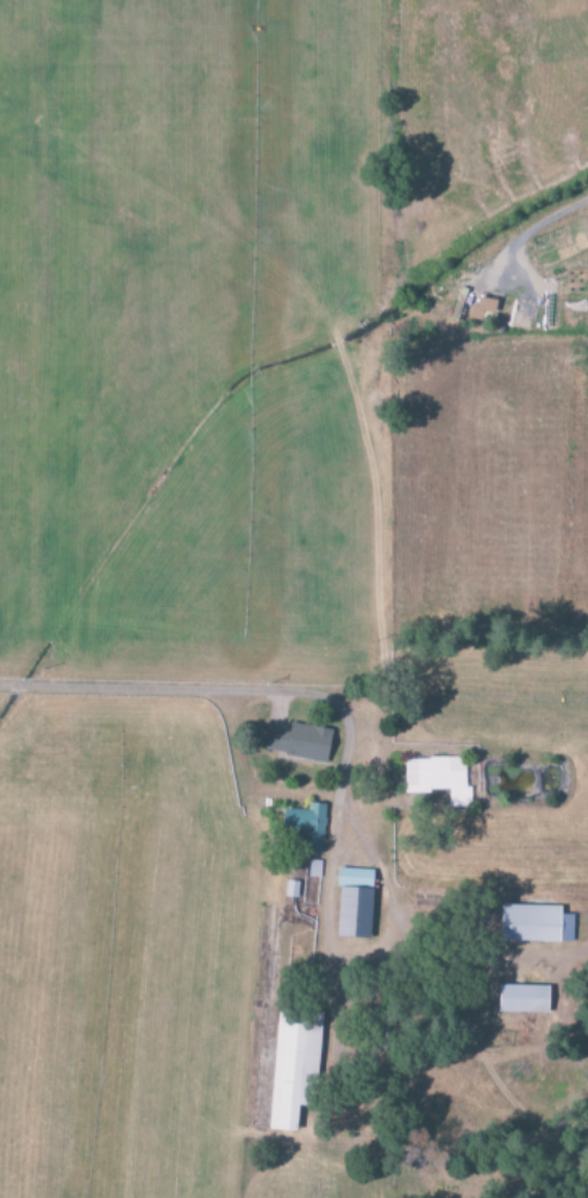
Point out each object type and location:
building: (482, 307)
road: (299, 692)
building: (298, 742)
building: (438, 778)
building: (306, 826)
building: (354, 903)
building: (534, 924)
building: (523, 998)
building: (293, 1067)

